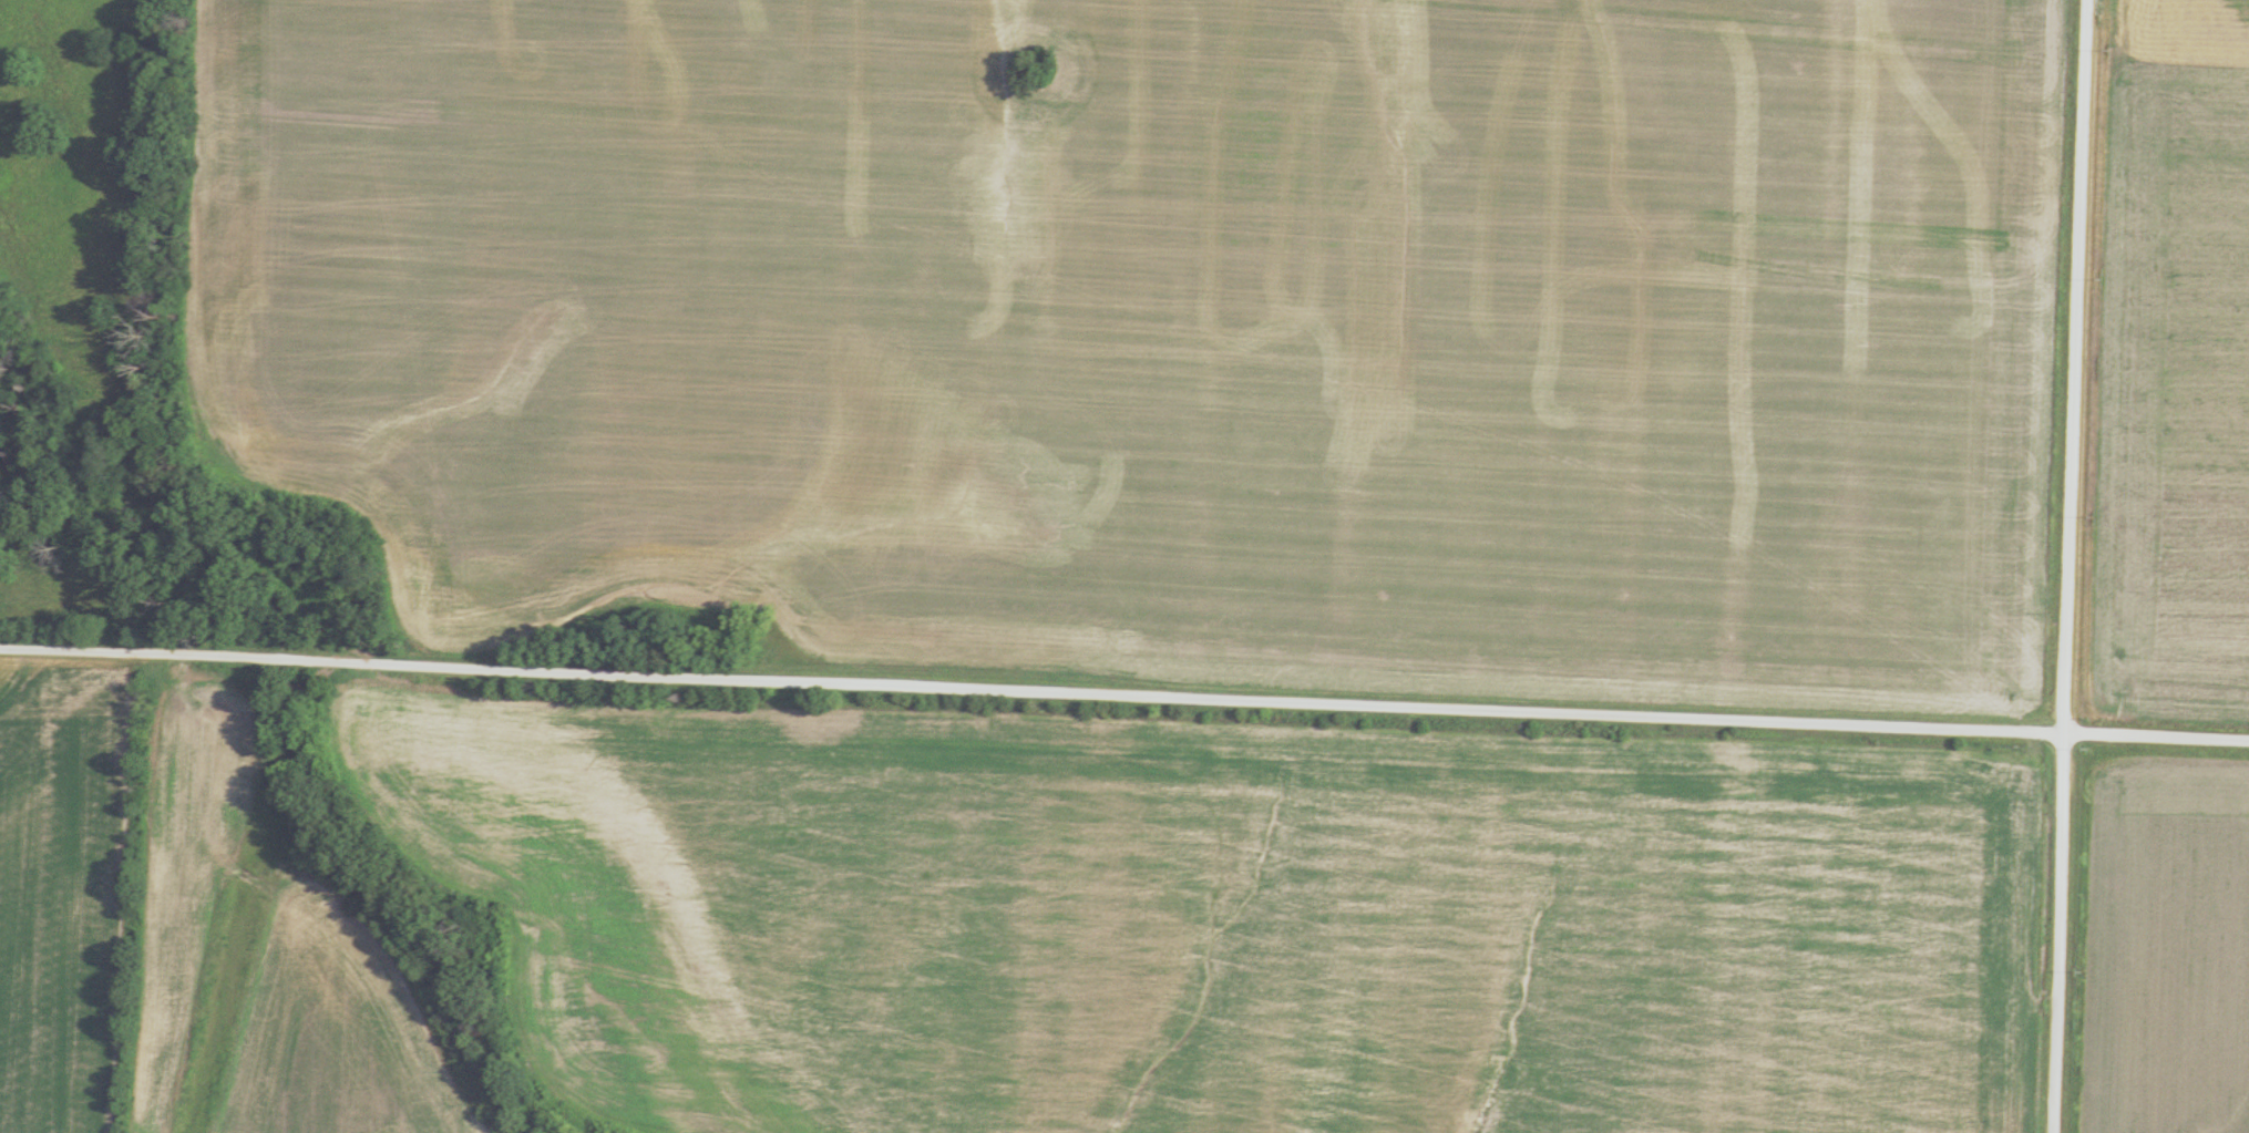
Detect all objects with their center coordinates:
road: (2070, 566)
road: (1123, 697)

